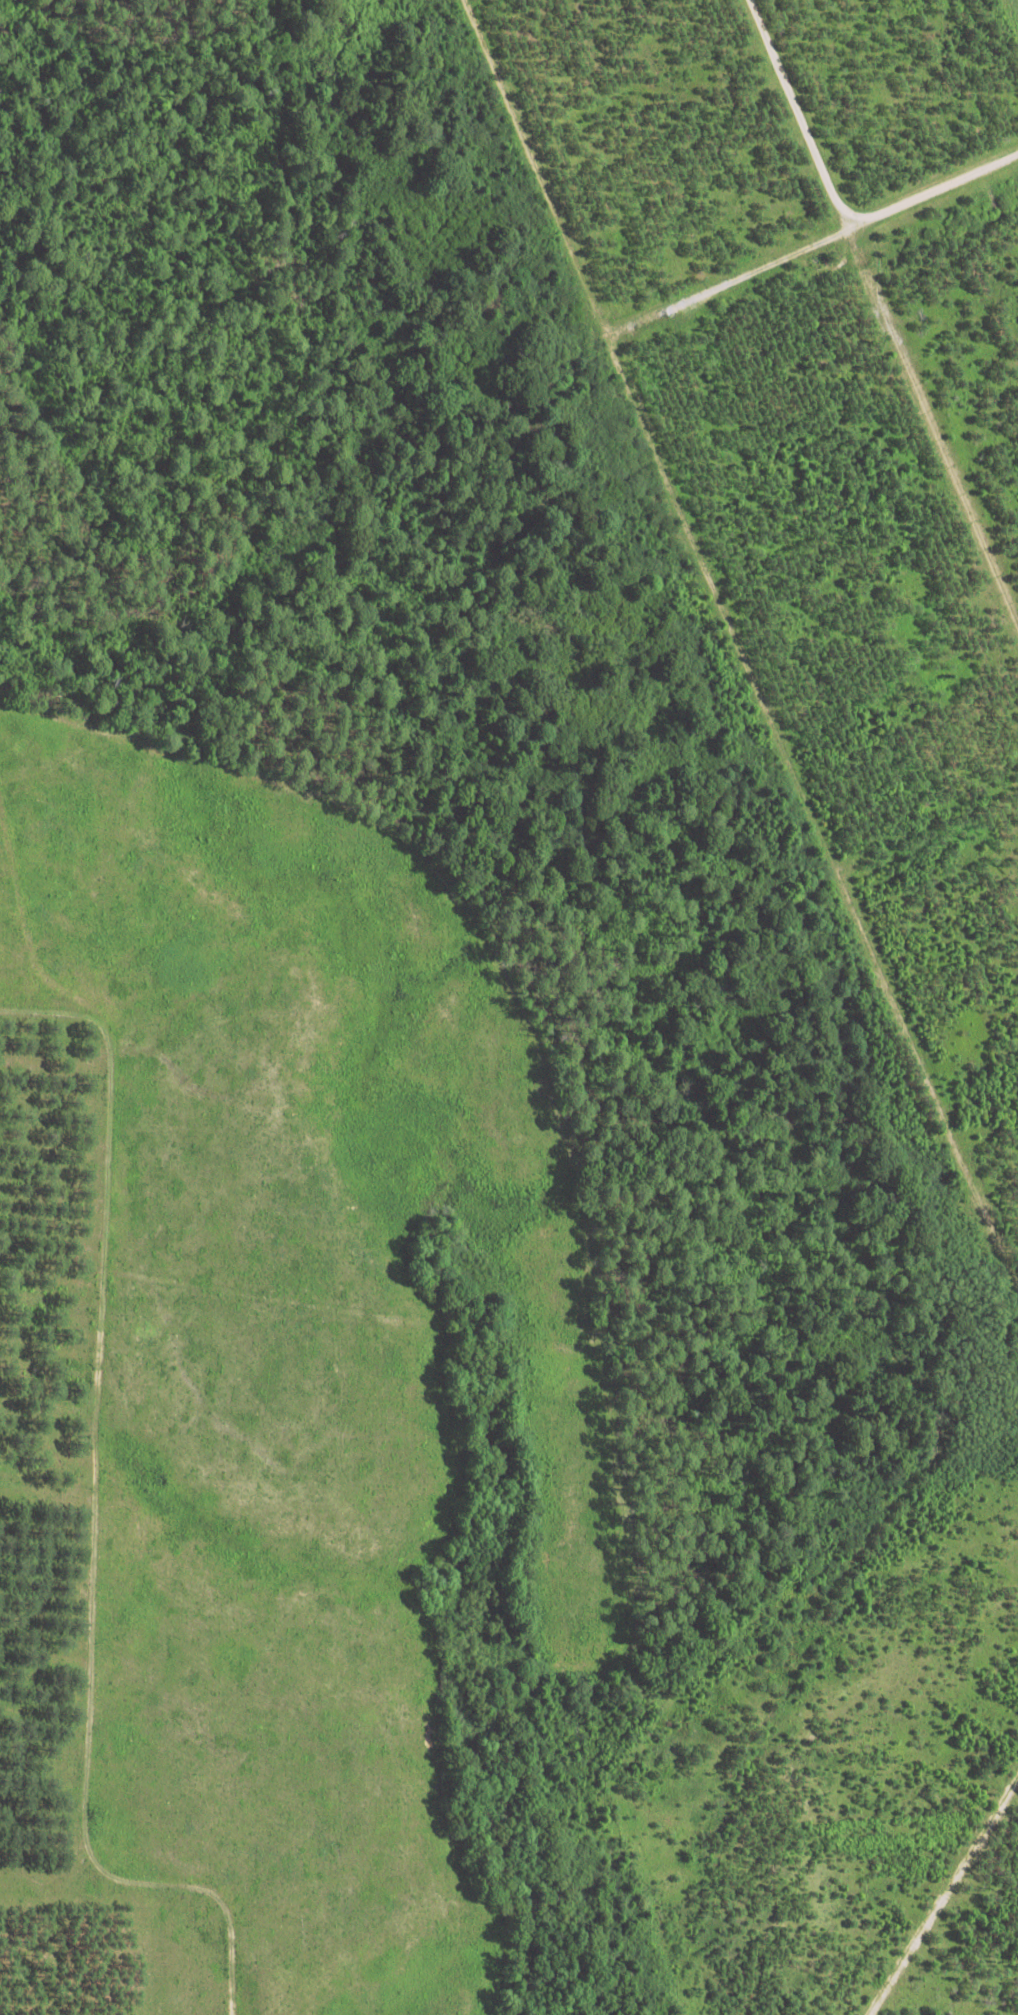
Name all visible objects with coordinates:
road: (836, 191)
road: (732, 273)
road: (936, 417)
road: (742, 641)
road: (927, 831)
road: (944, 1895)

